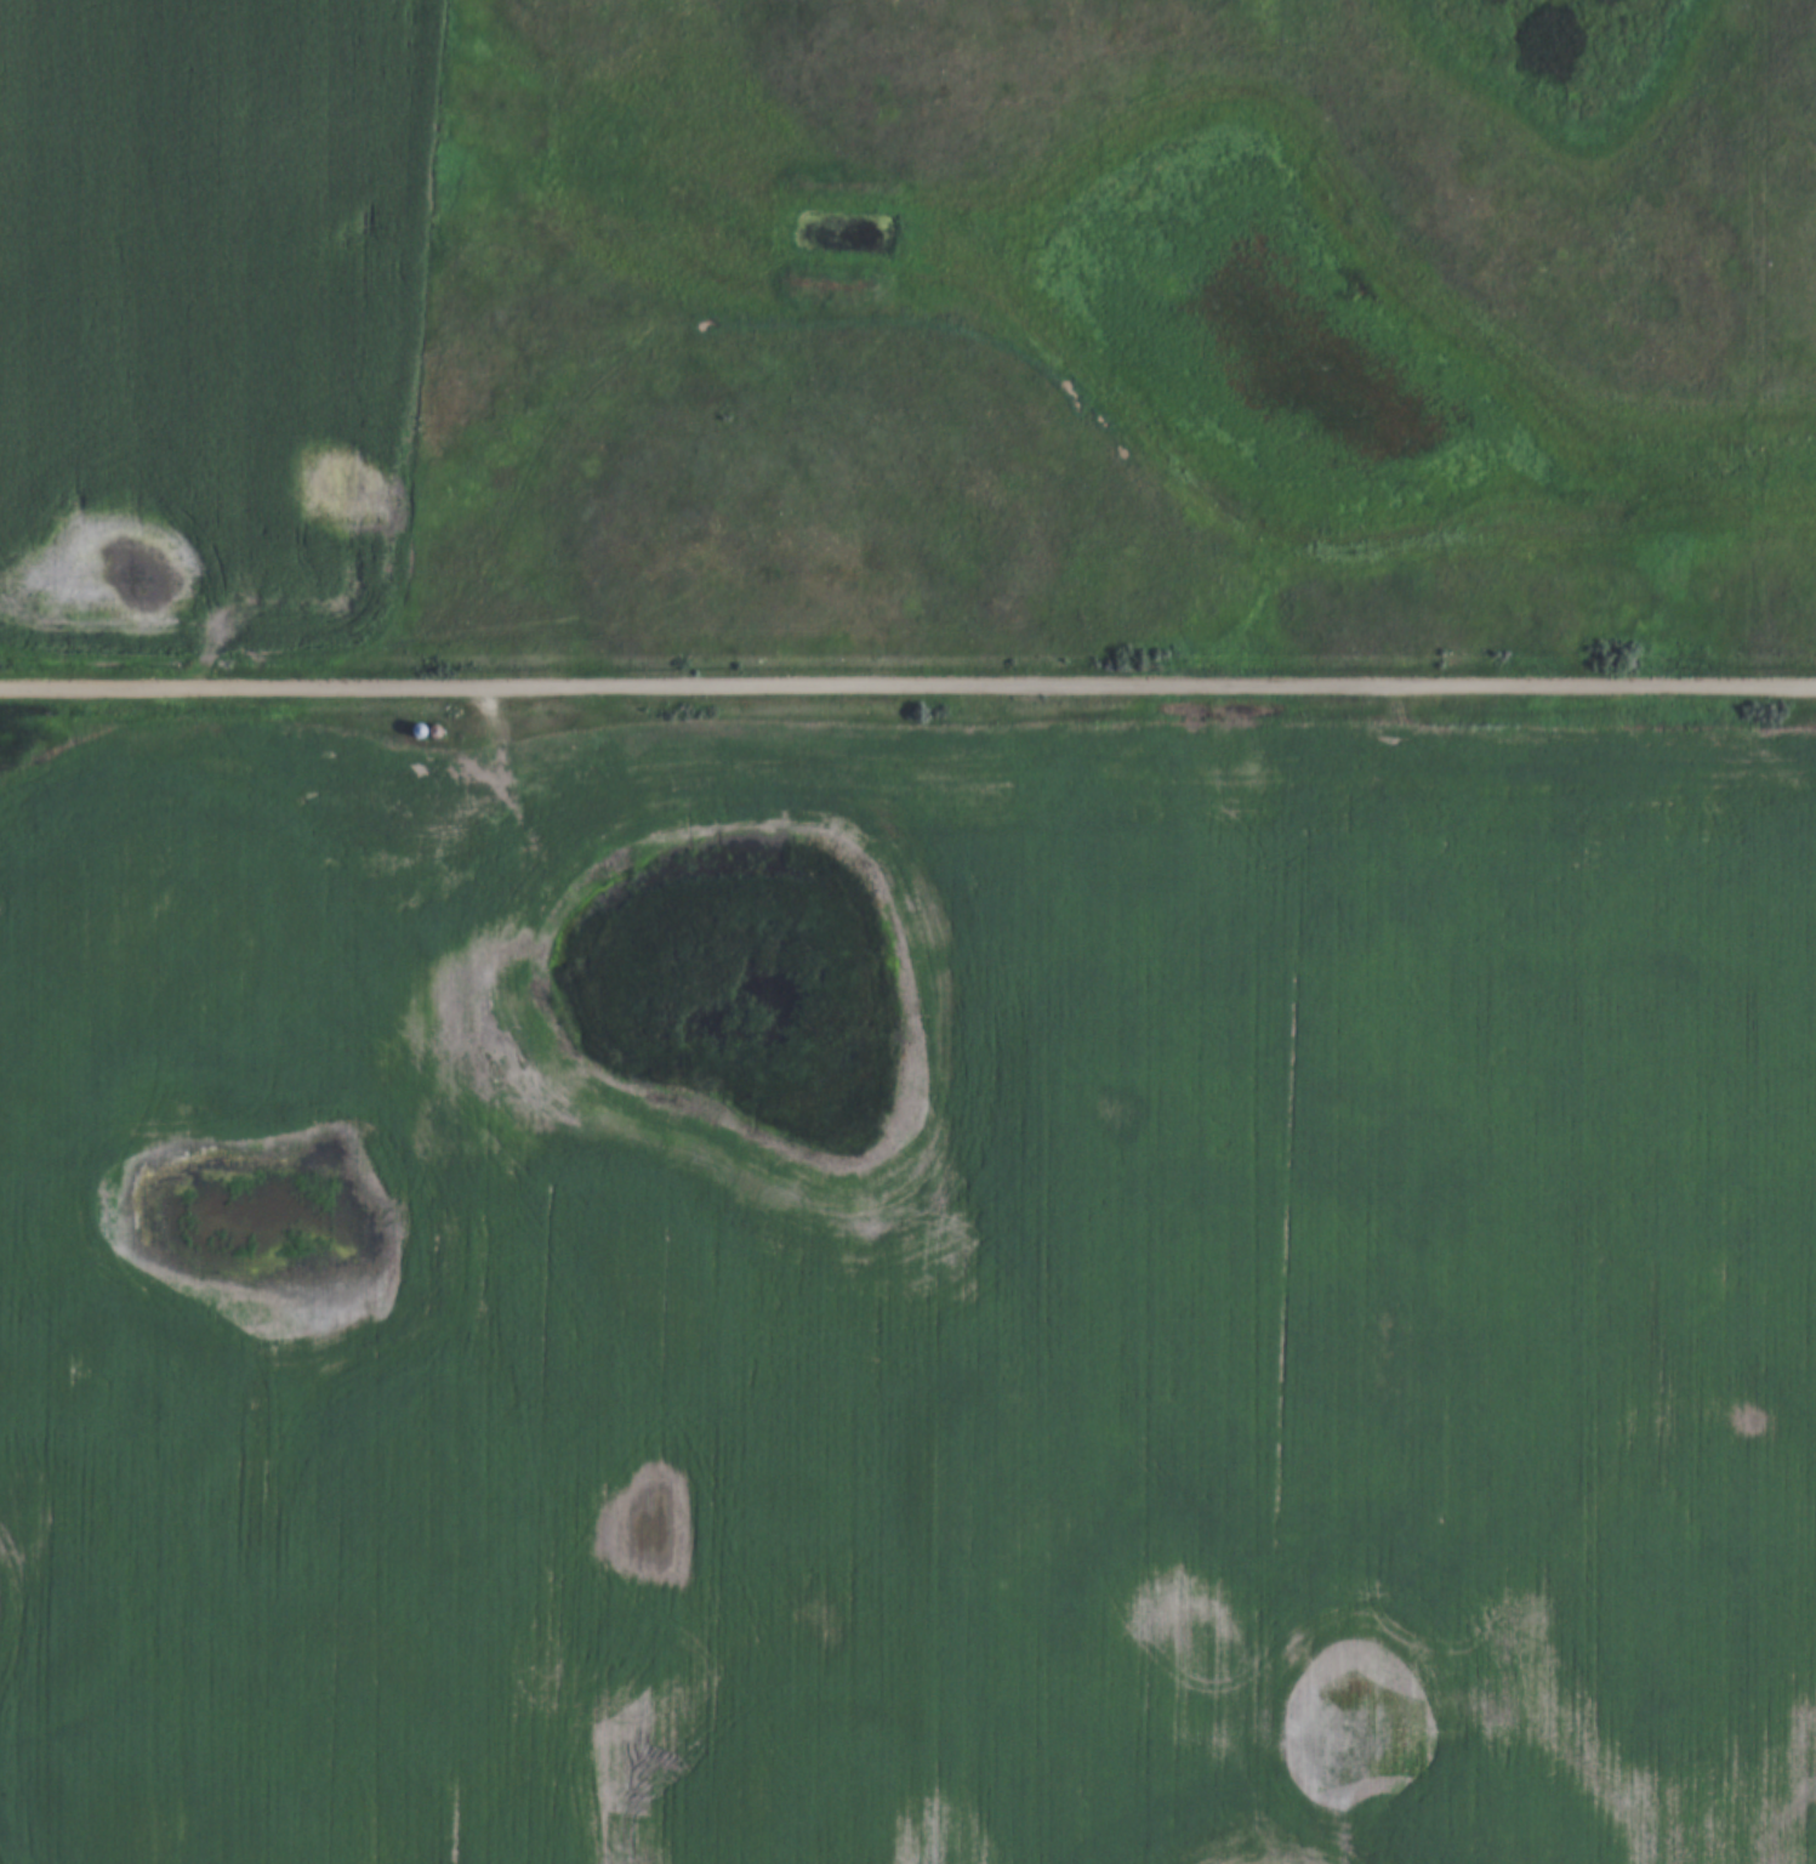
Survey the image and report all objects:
road: (907, 686)

